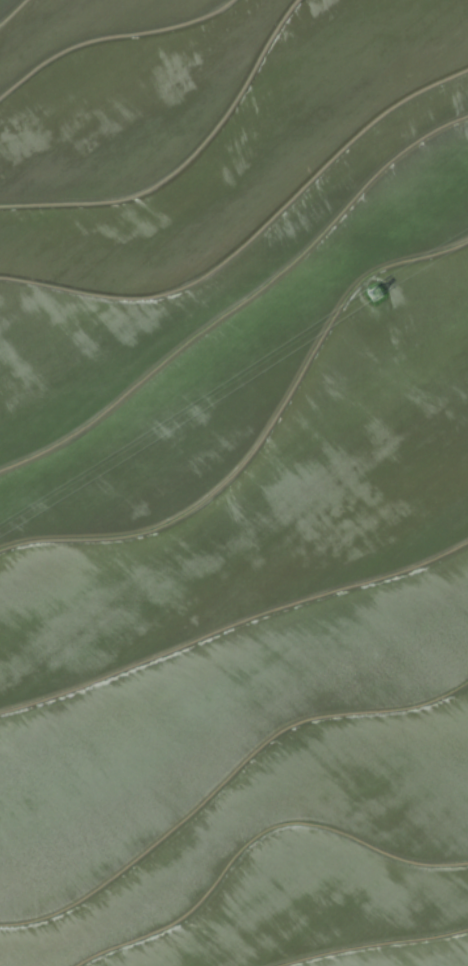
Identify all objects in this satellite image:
power tower: (380, 297)
crop: (234, 483)

